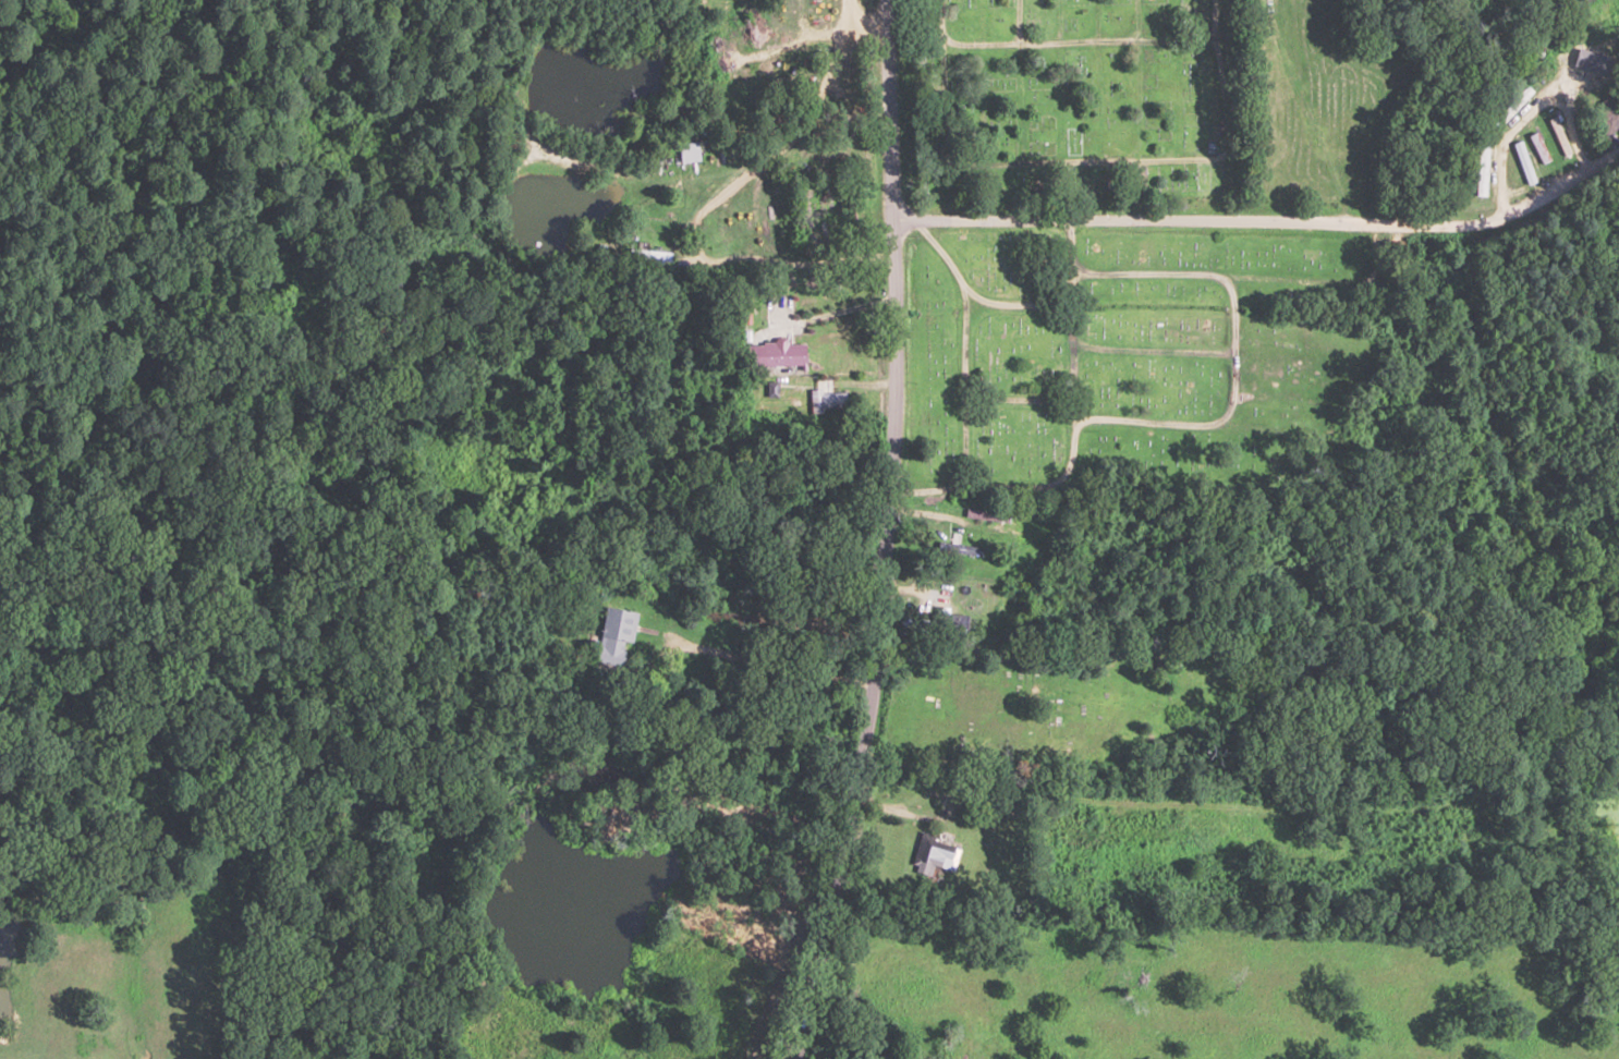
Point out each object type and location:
building: (1598, 48)
building: (1514, 104)
building: (1608, 112)
building: (1533, 147)
building: (687, 151)
road: (1263, 222)
building: (650, 255)
park: (1111, 260)
building: (774, 354)
road: (880, 533)
building: (612, 633)
building: (934, 854)

